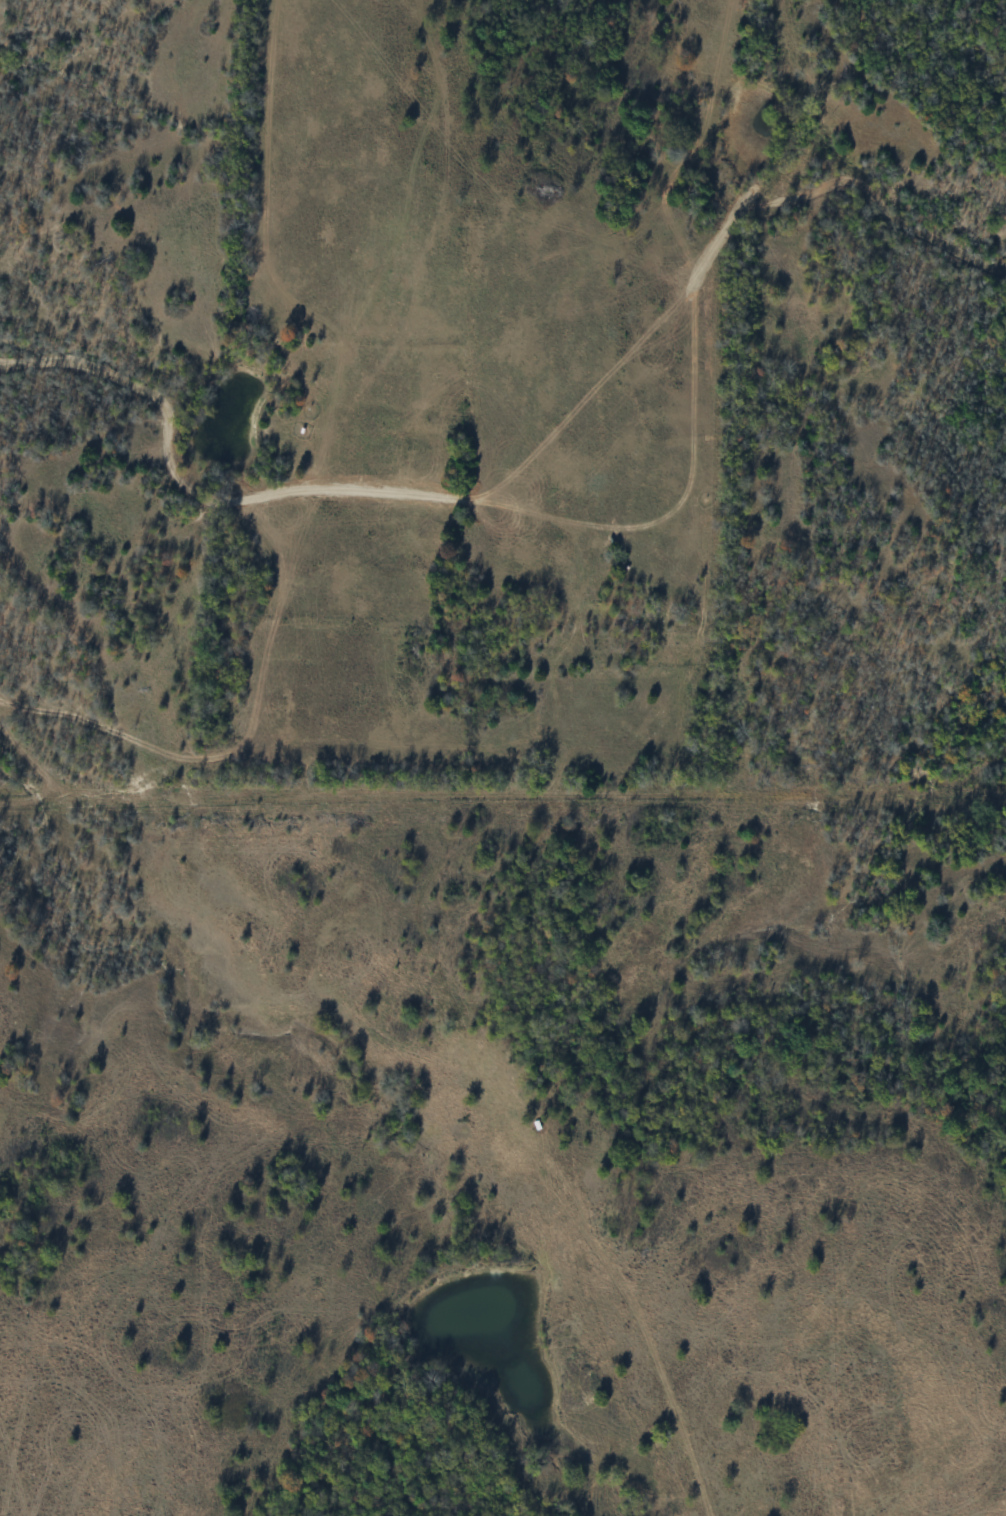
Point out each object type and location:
road: (647, 1438)

